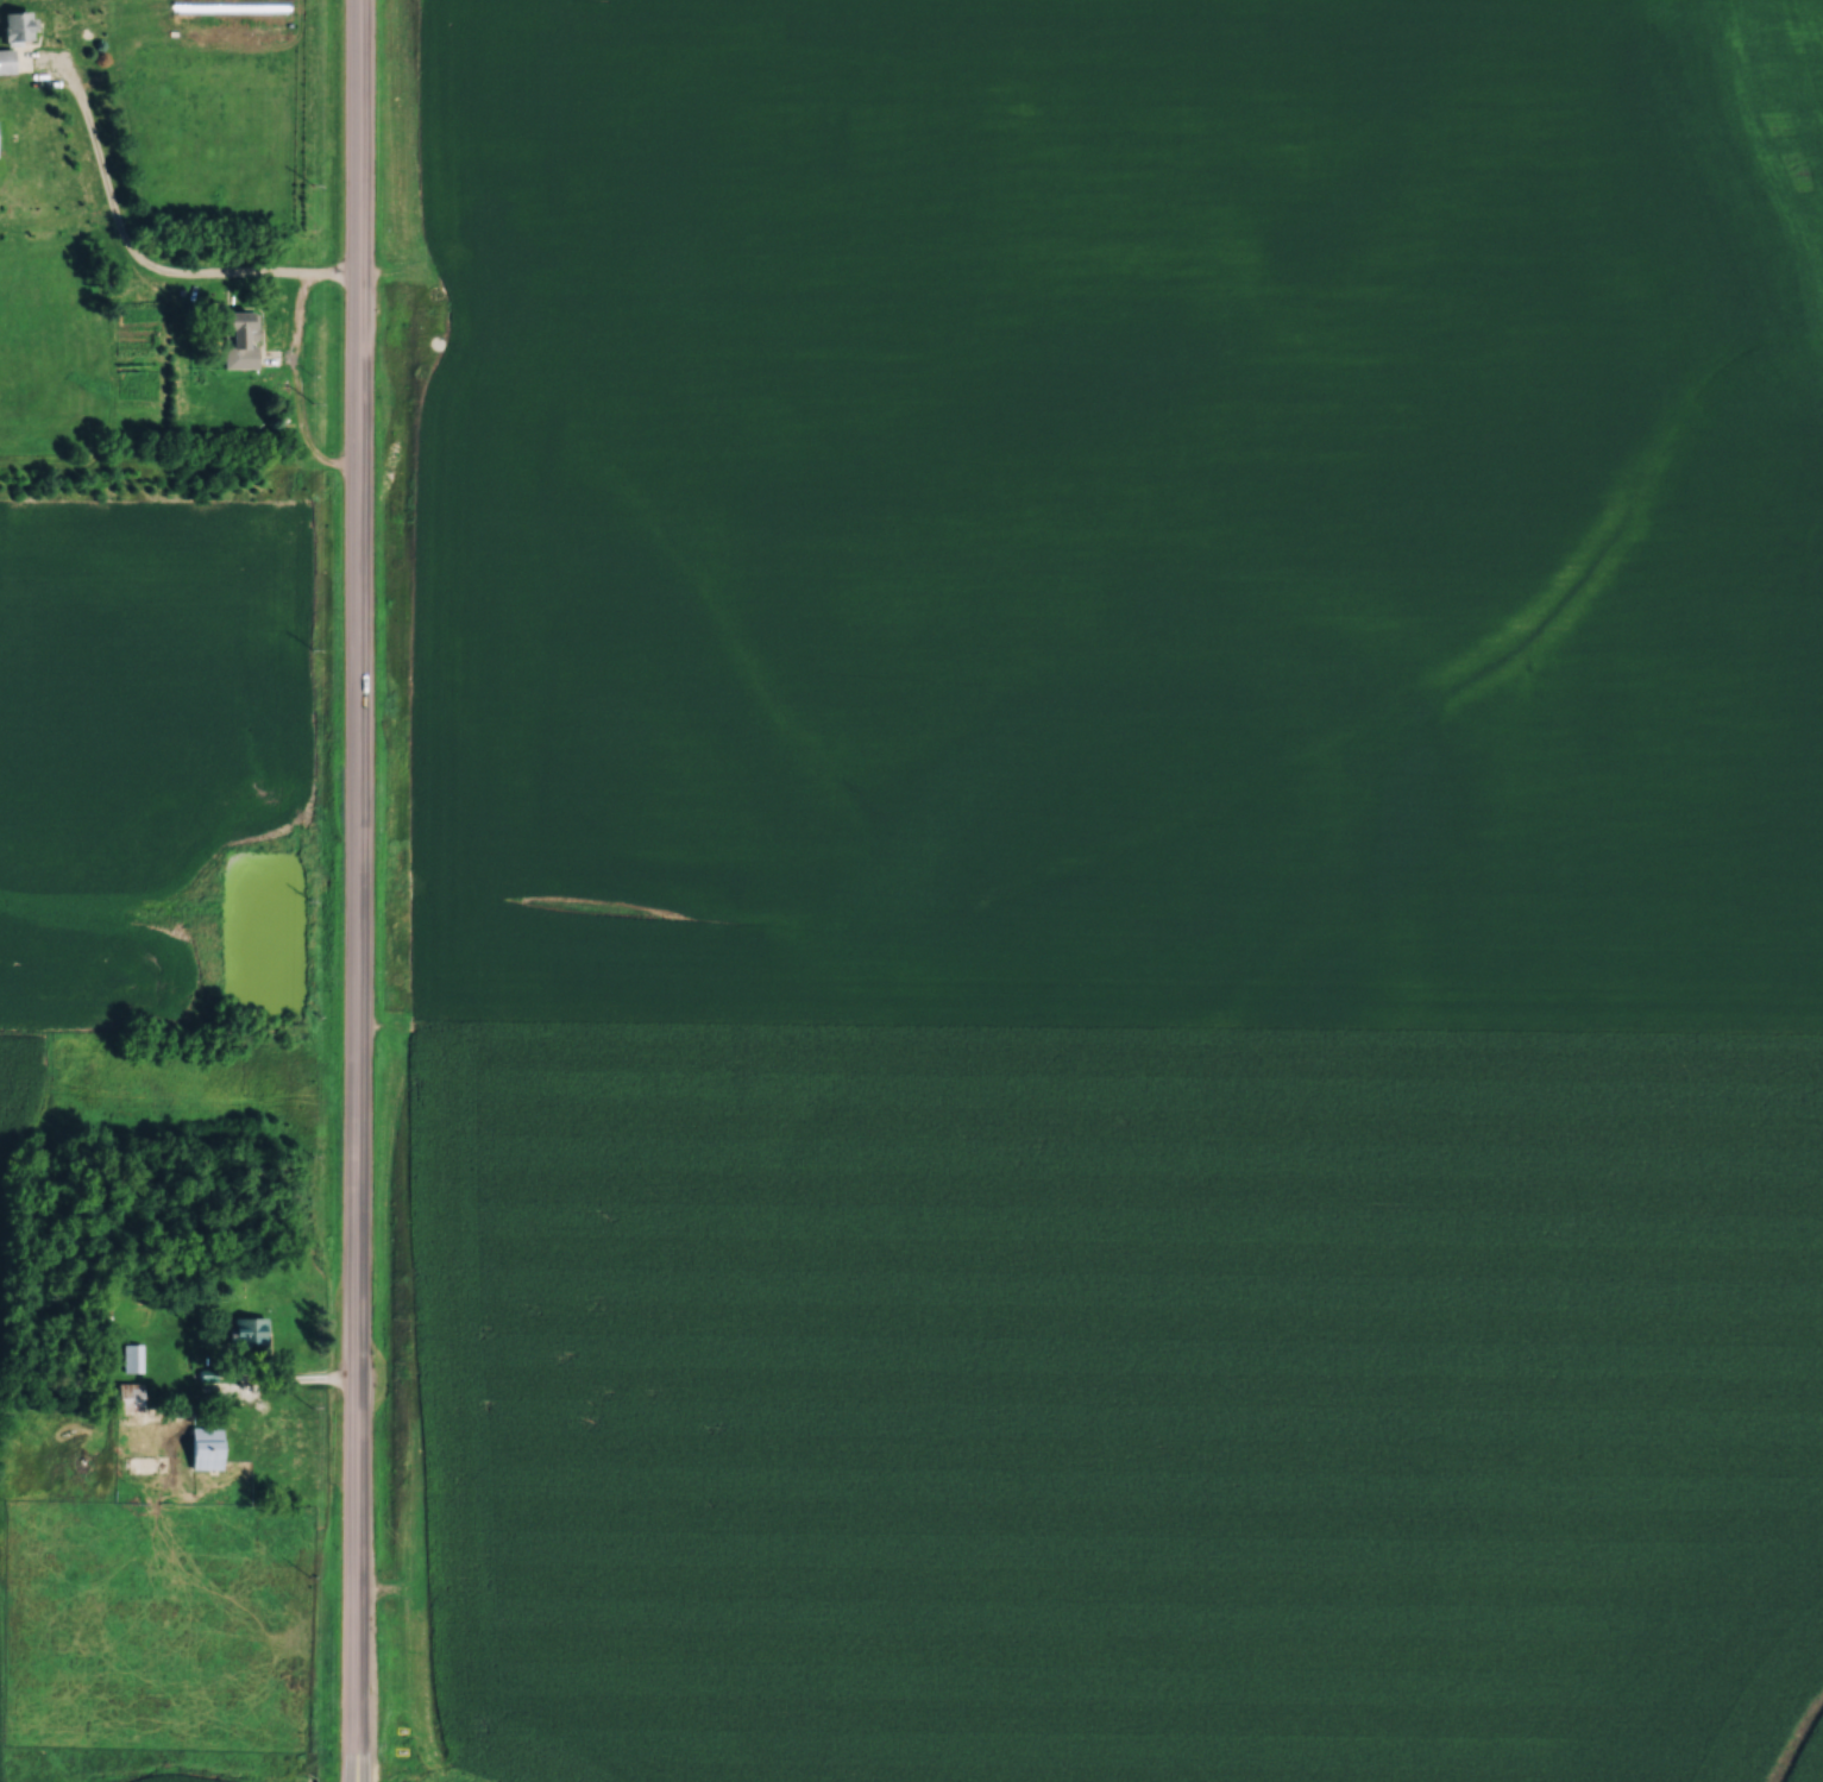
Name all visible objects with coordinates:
building: (14, 23)
building: (5, 58)
road: (125, 239)
building: (237, 336)
road: (356, 886)
building: (246, 1329)
building: (132, 1356)
road: (278, 1375)
building: (127, 1394)
building: (203, 1446)
building: (140, 1461)
road: (353, 1777)
road: (354, 1777)

